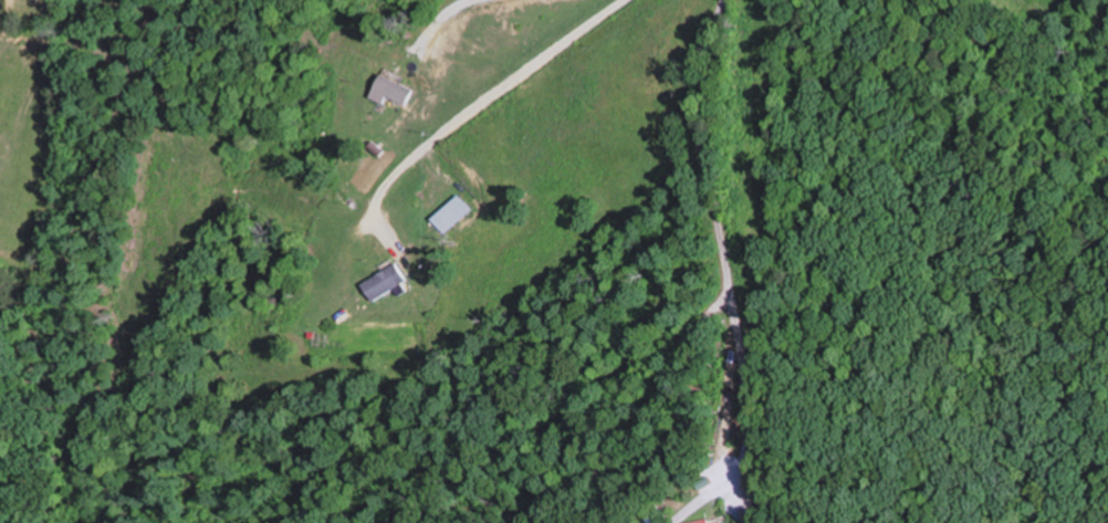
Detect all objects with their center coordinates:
road: (435, 18)
building: (399, 84)
road: (480, 93)
building: (450, 215)
building: (380, 282)
road: (730, 301)
road: (744, 396)
building: (703, 521)

